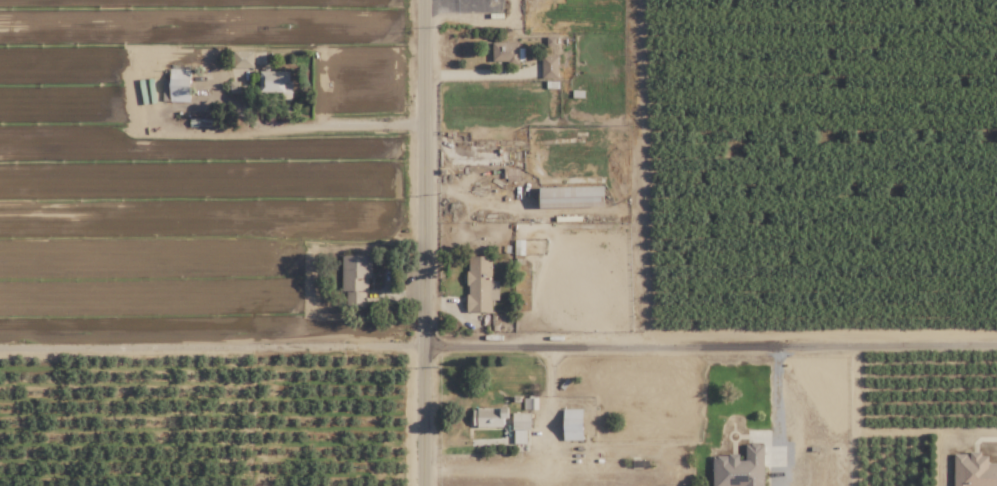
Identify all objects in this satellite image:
building: (506, 52)
building: (248, 59)
building: (549, 67)
building: (274, 82)
building: (179, 85)
road: (342, 124)
crop: (828, 166)
building: (571, 197)
road: (423, 243)
building: (518, 247)
building: (355, 279)
building: (480, 284)
road: (498, 349)
building: (488, 417)
road: (776, 417)
building: (521, 421)
building: (572, 425)
crop: (205, 426)
building: (519, 436)
road: (539, 461)
building: (739, 468)
building: (973, 470)

